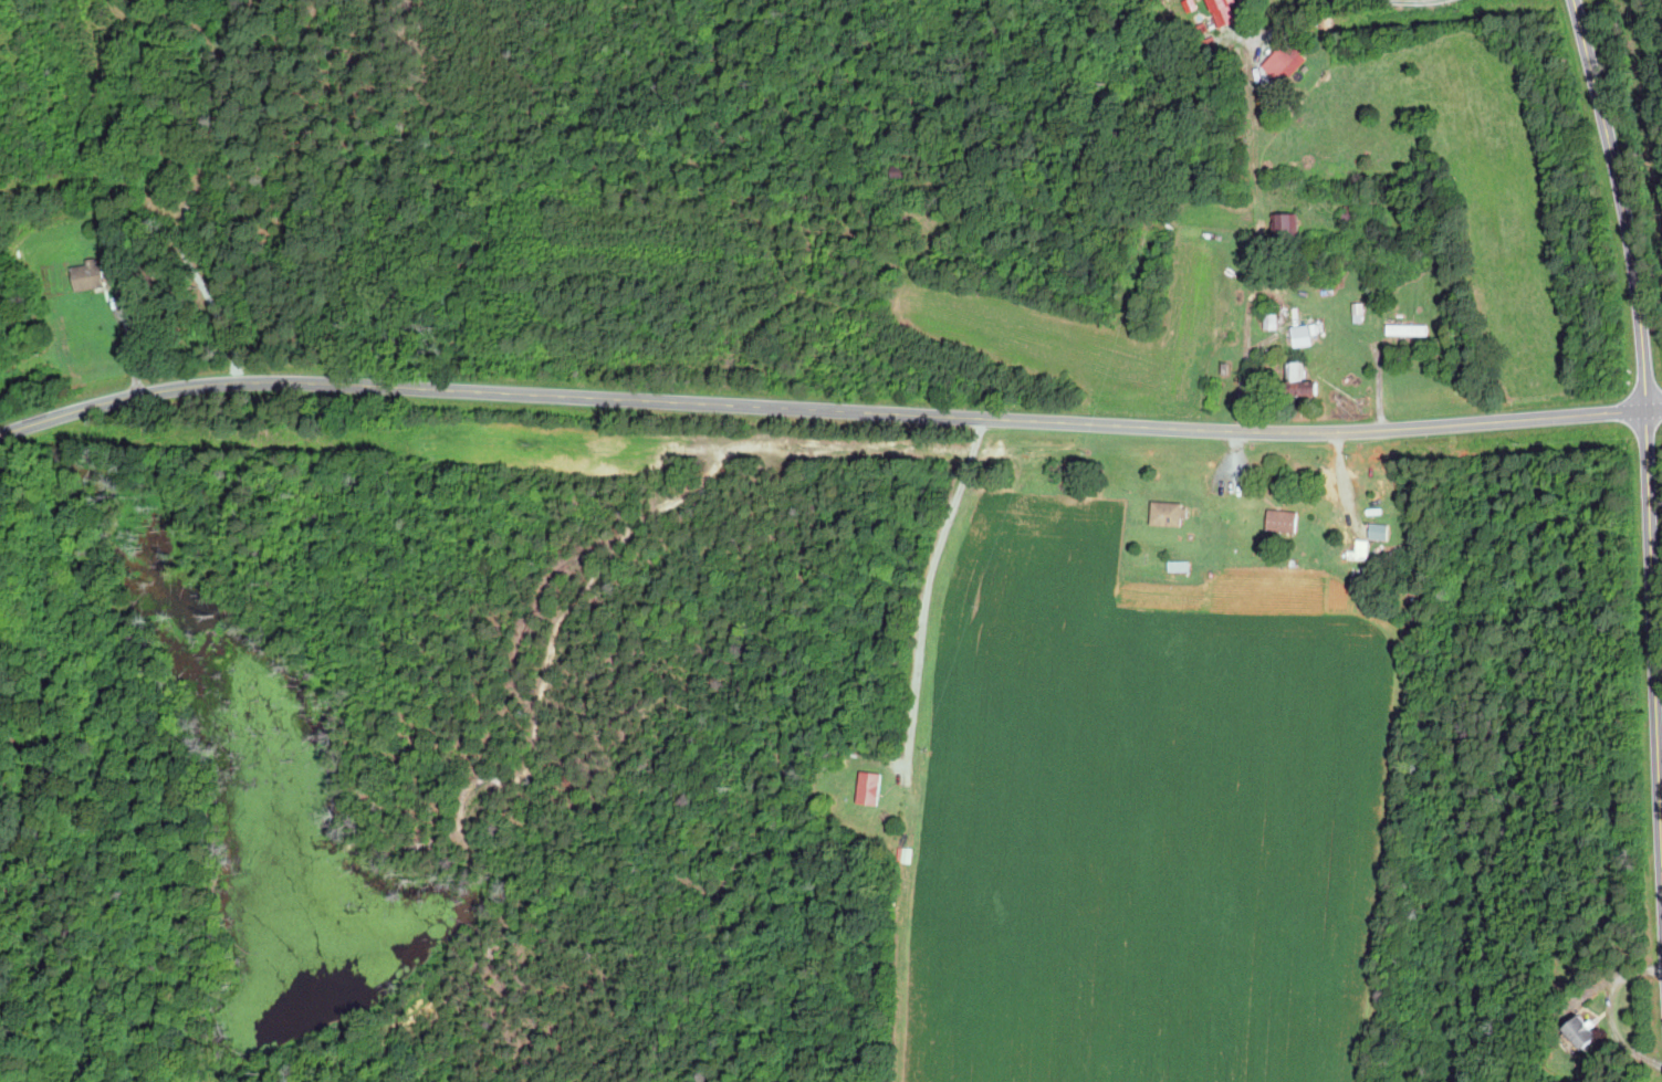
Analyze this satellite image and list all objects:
road: (1367, 0)
building: (1219, 10)
road: (1259, 201)
building: (93, 274)
building: (1403, 328)
building: (1302, 335)
road: (133, 349)
building: (1293, 371)
road: (1654, 408)
road: (822, 410)
road: (1649, 500)
building: (1166, 514)
building: (1281, 521)
building: (1377, 531)
building: (1360, 548)
building: (1178, 563)
building: (1150, 570)
road: (928, 595)
building: (875, 787)
building: (902, 852)
building: (1574, 1029)

